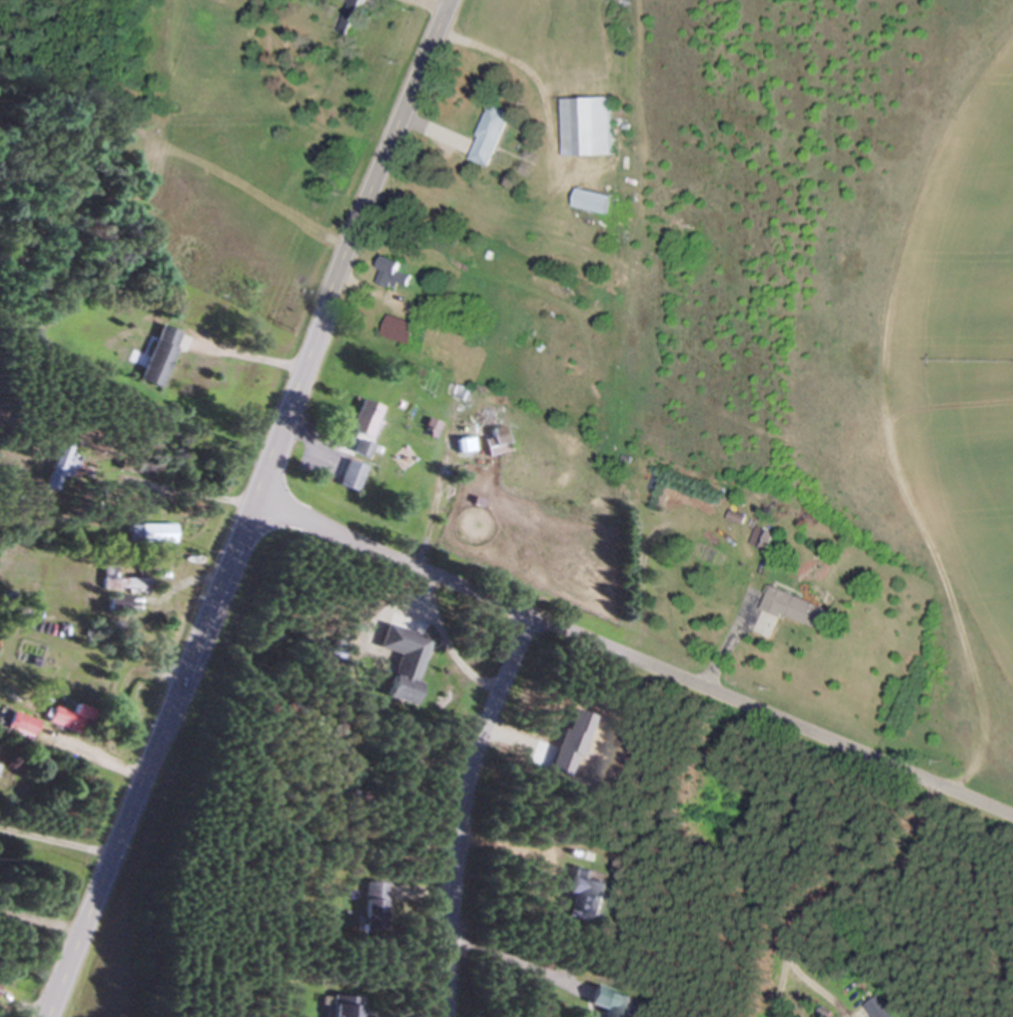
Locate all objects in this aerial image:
building: (587, 128)
building: (489, 136)
building: (592, 202)
building: (393, 276)
building: (399, 331)
road: (239, 354)
building: (156, 356)
building: (361, 419)
building: (492, 444)
building: (359, 448)
building: (56, 469)
building: (349, 475)
road: (165, 487)
road: (246, 507)
building: (153, 533)
building: (759, 537)
building: (118, 579)
building: (114, 603)
building: (795, 608)
road: (726, 641)
building: (401, 661)
road: (630, 662)
building: (65, 717)
building: (18, 722)
road: (458, 811)
road: (55, 841)
road: (506, 852)
road: (865, 880)
building: (583, 895)
building: (371, 904)
road: (511, 962)
road: (821, 988)
road: (775, 990)
building: (609, 1001)
building: (347, 1007)

